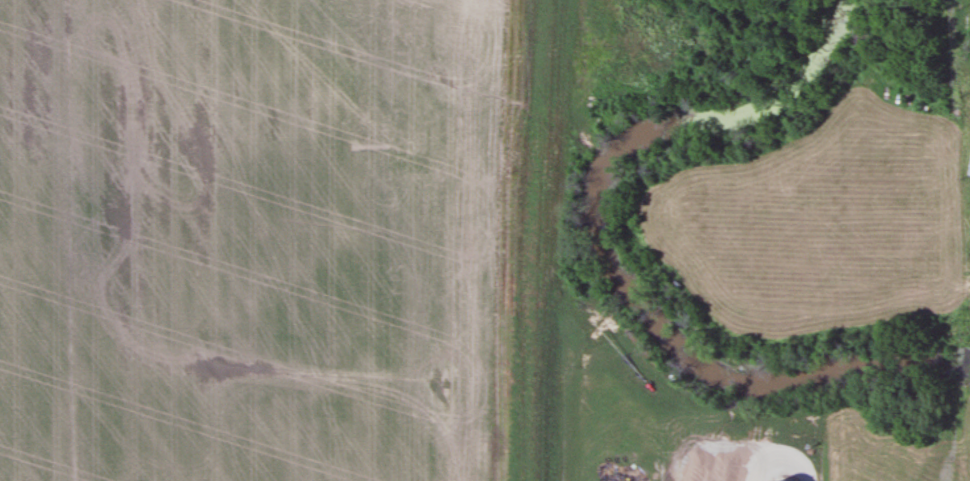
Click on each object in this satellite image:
building: (968, 162)
crop: (277, 240)

